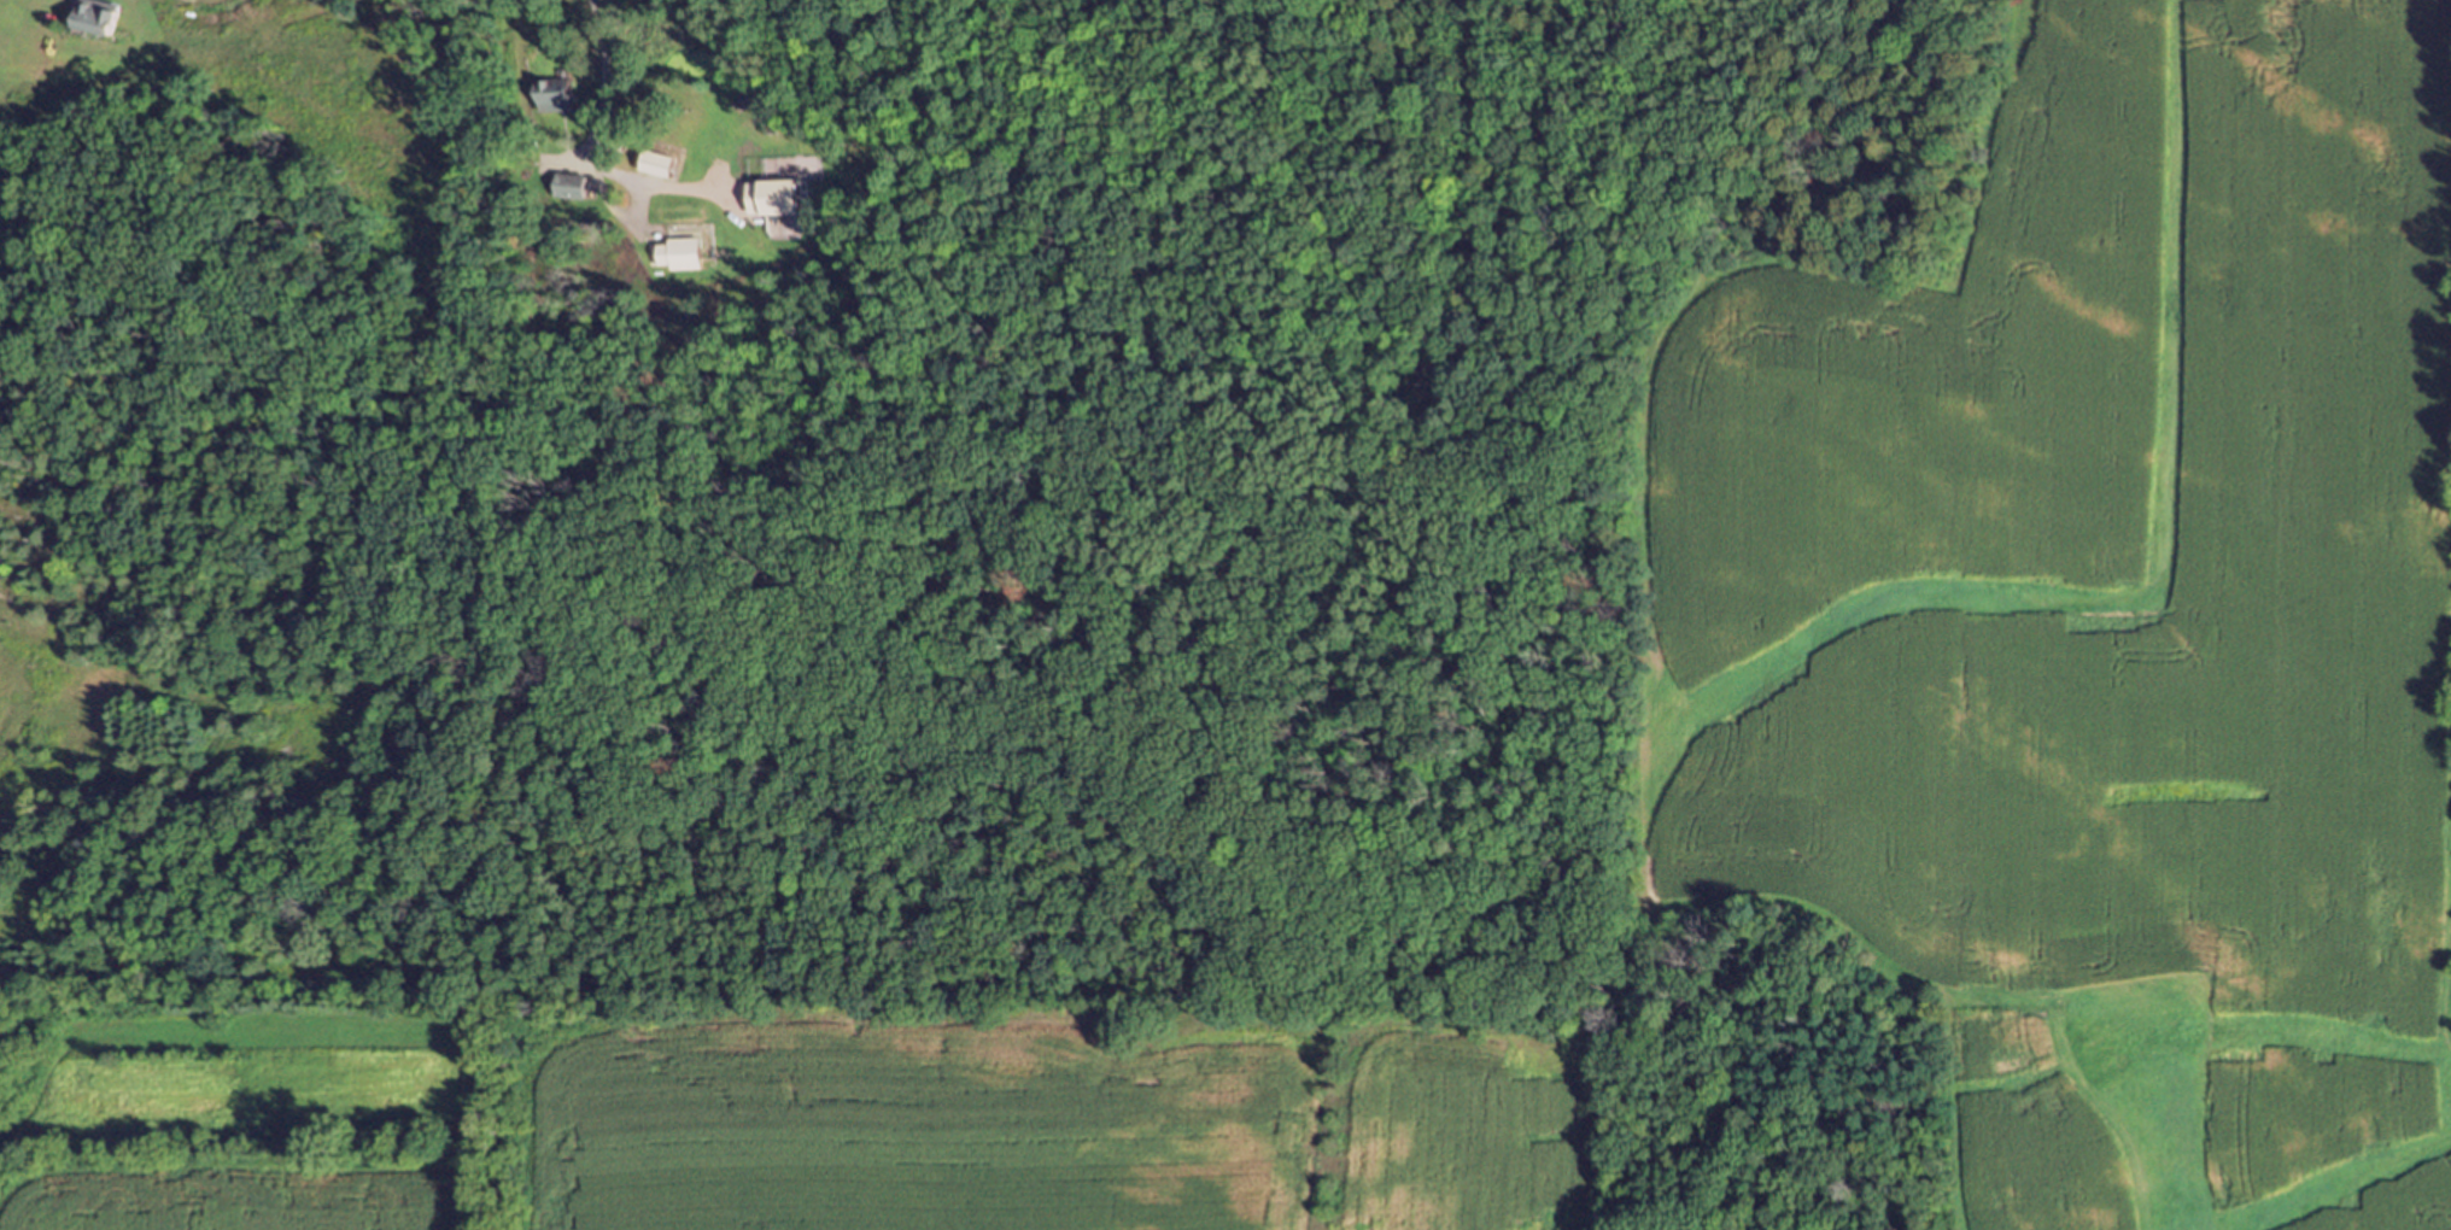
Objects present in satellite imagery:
building: (216, 0)
building: (105, 23)
building: (560, 100)
road: (592, 129)
building: (662, 169)
building: (571, 191)
building: (680, 259)

